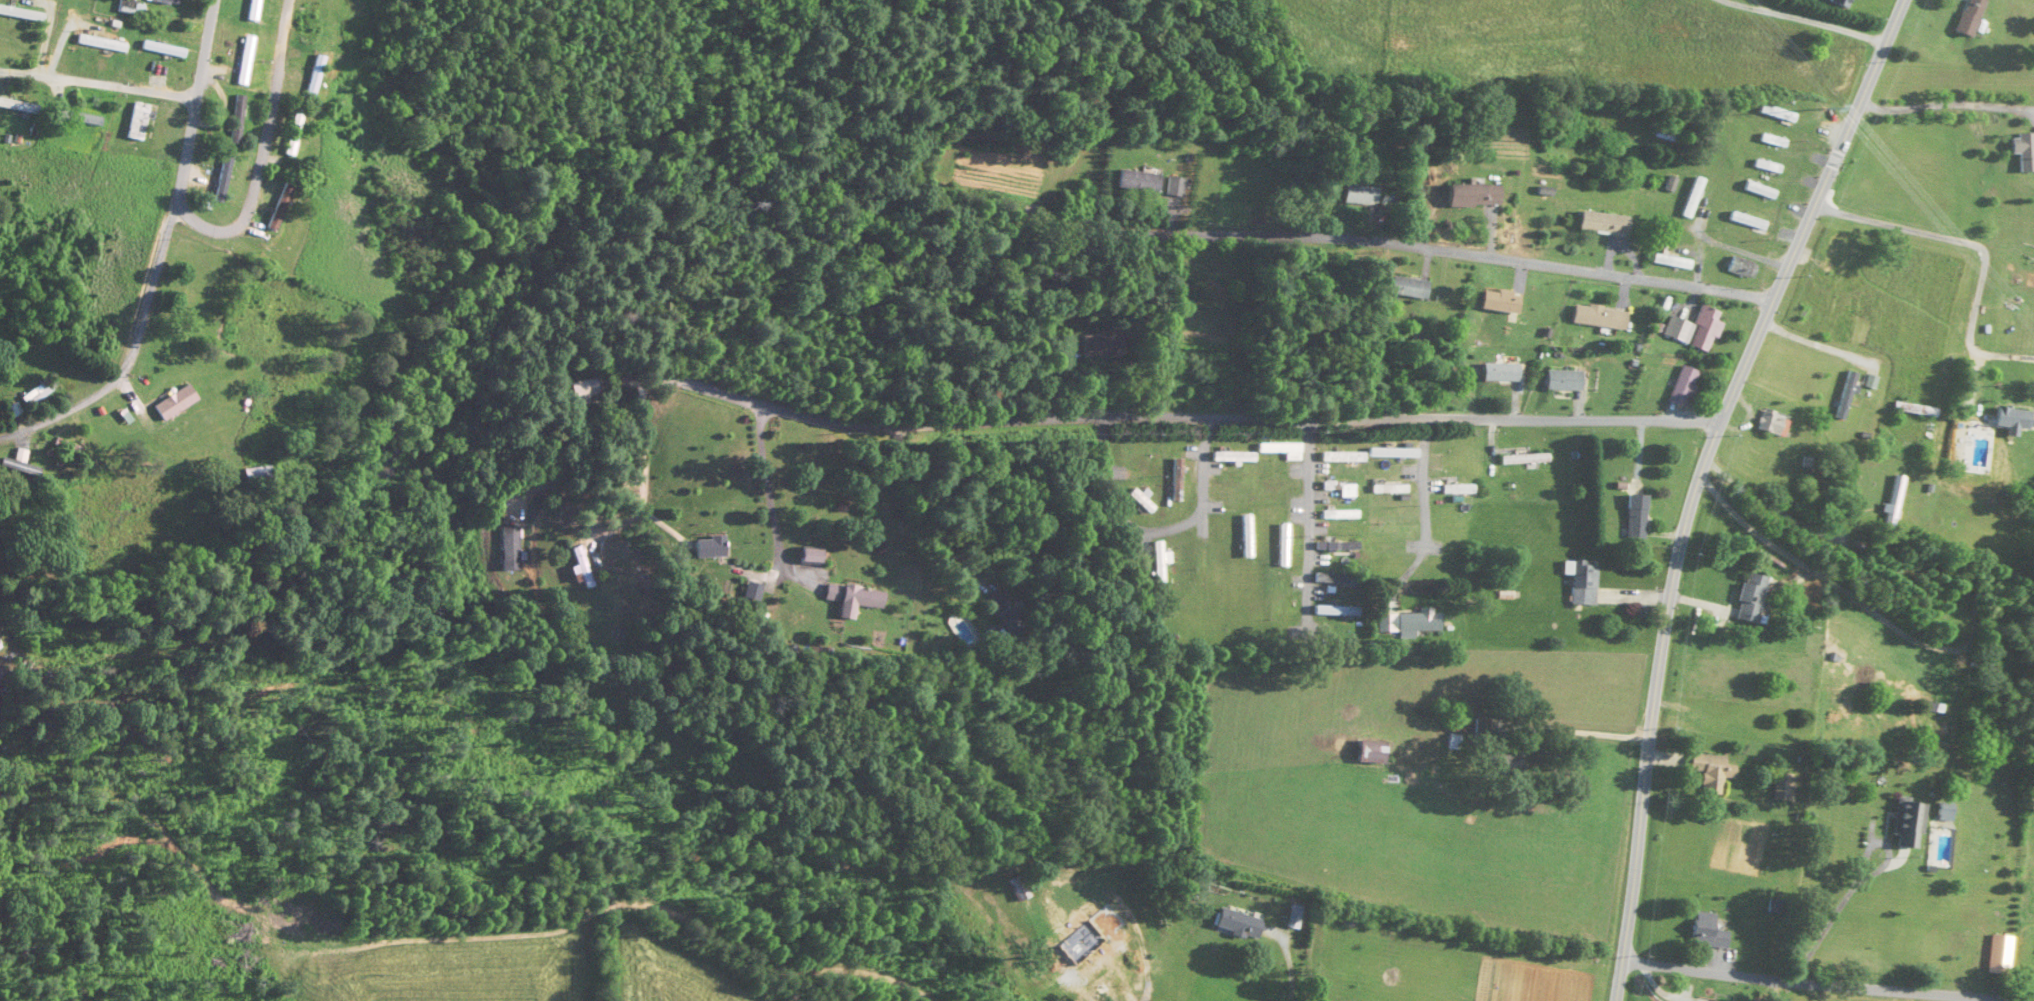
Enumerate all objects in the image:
building: (162, 2)
building: (1834, 4)
building: (122, 7)
building: (249, 10)
building: (20, 15)
building: (1965, 18)
road: (1804, 19)
building: (97, 44)
building: (159, 50)
building: (241, 62)
building: (310, 78)
road: (96, 85)
road: (1945, 105)
building: (17, 108)
building: (1773, 114)
building: (74, 118)
building: (233, 121)
building: (135, 123)
building: (289, 136)
building: (1771, 142)
road: (258, 151)
building: (2021, 152)
building: (1765, 167)
building: (219, 179)
building: (1133, 183)
building: (1669, 186)
building: (1170, 188)
building: (1757, 191)
building: (1352, 197)
building: (1465, 198)
building: (1691, 199)
road: (1125, 206)
building: (275, 208)
building: (1746, 222)
building: (1597, 225)
road: (1975, 255)
road: (159, 256)
building: (1833, 258)
building: (1668, 263)
building: (1738, 269)
road: (1585, 276)
building: (1401, 289)
building: (191, 297)
building: (1493, 303)
building: (1594, 318)
building: (1690, 331)
building: (1094, 349)
building: (1496, 373)
building: (1558, 382)
building: (1678, 388)
building: (571, 394)
building: (1843, 396)
building: (28, 397)
building: (169, 404)
building: (1912, 411)
road: (1164, 417)
building: (2006, 422)
building: (1768, 424)
building: (59, 448)
building: (1277, 451)
building: (1339, 458)
building: (1228, 459)
building: (1523, 459)
building: (14, 466)
building: (248, 474)
building: (1172, 481)
road: (1694, 481)
road: (629, 483)
building: (1333, 485)
building: (1386, 489)
building: (1455, 490)
building: (1135, 501)
building: (1893, 501)
road: (771, 502)
building: (1336, 514)
building: (1632, 516)
road: (636, 517)
building: (1393, 531)
building: (1243, 536)
building: (1279, 545)
building: (1333, 545)
building: (700, 546)
building: (502, 547)
building: (802, 556)
building: (1155, 563)
road: (1803, 564)
building: (1199, 565)
building: (572, 566)
road: (762, 575)
building: (1331, 579)
building: (1579, 581)
building: (1746, 598)
building: (847, 599)
building: (1277, 602)
building: (1333, 611)
building: (1407, 622)
building: (1368, 753)
building: (1504, 764)
building: (1710, 772)
building: (1782, 789)
building: (1940, 812)
building: (1905, 824)
building: (1973, 898)
building: (1076, 916)
building: (1236, 925)
building: (1704, 932)
building: (1947, 943)
building: (1997, 955)
road: (1290, 959)
building: (1093, 965)
road: (1823, 982)

